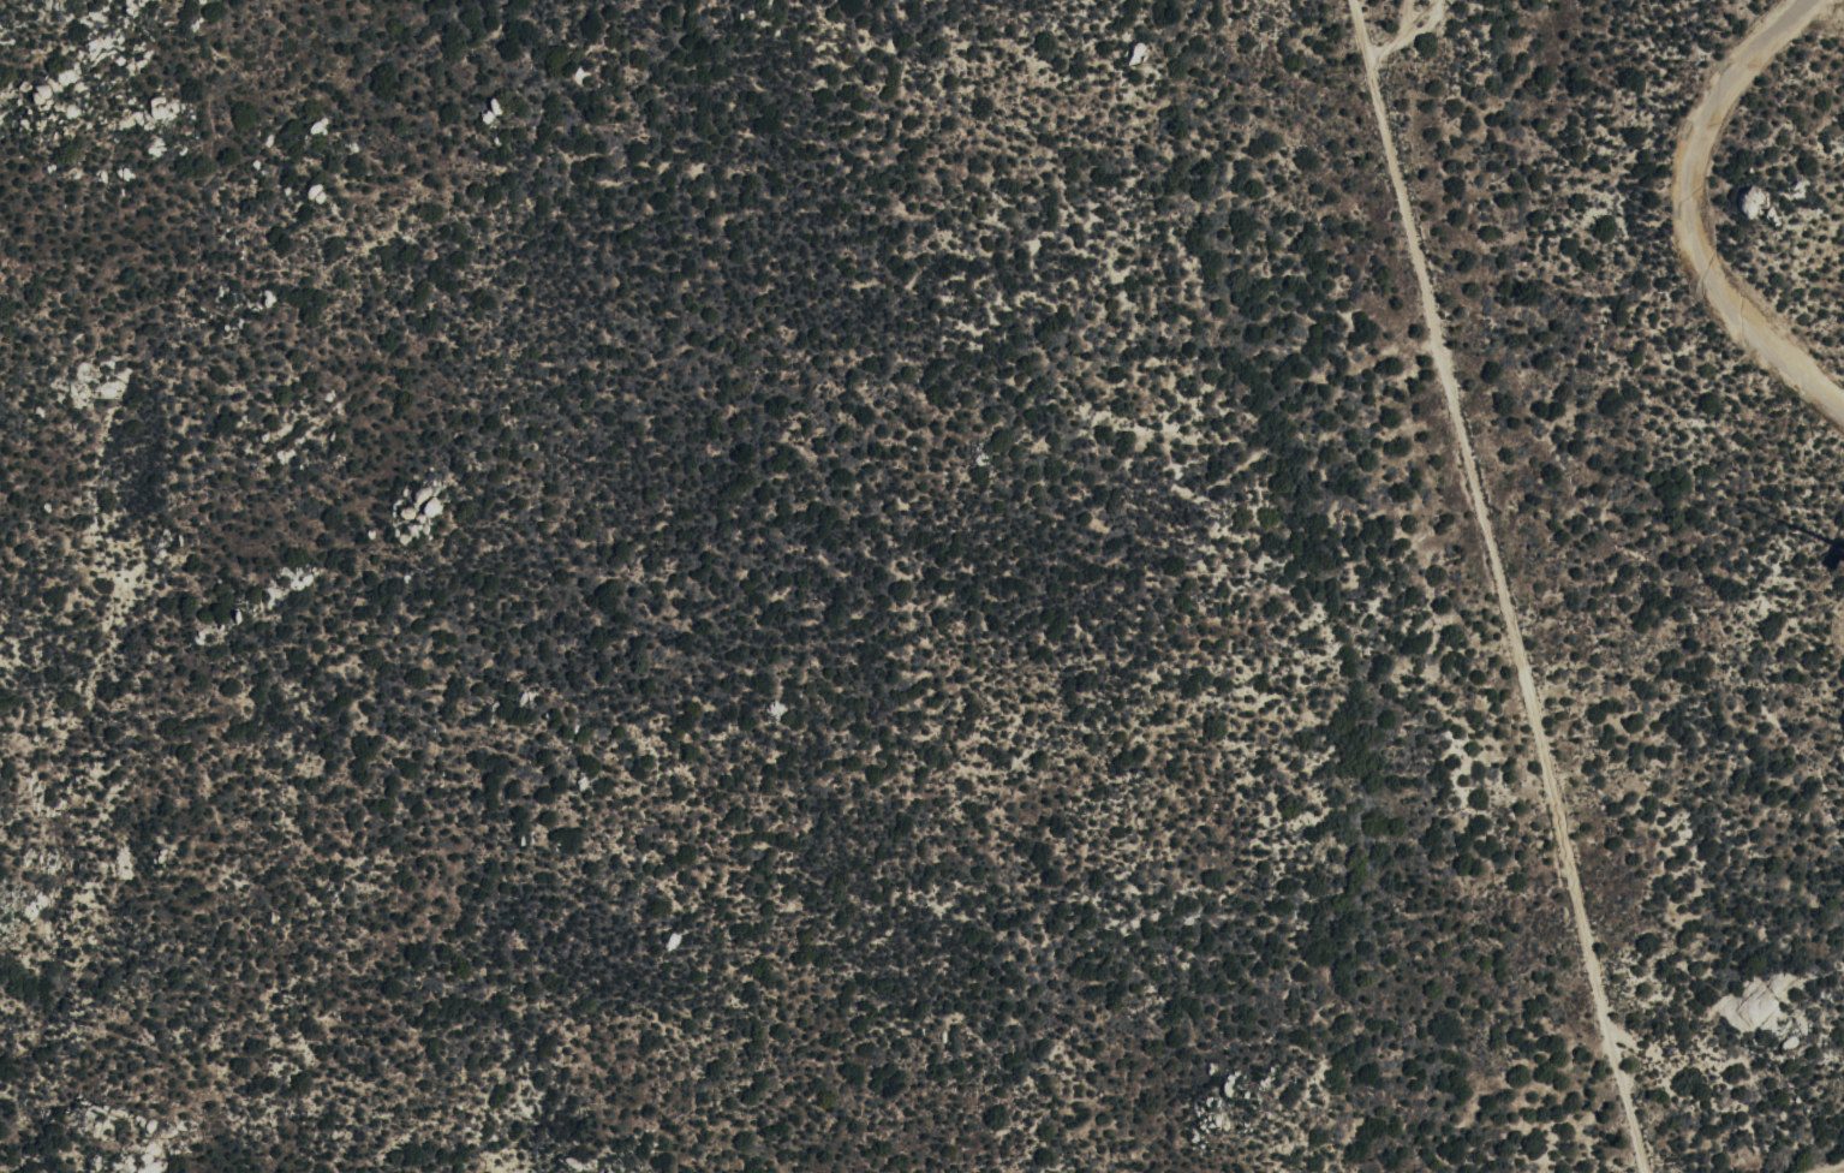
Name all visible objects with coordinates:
building: (1751, 201)
road: (1688, 215)
road: (1512, 584)

